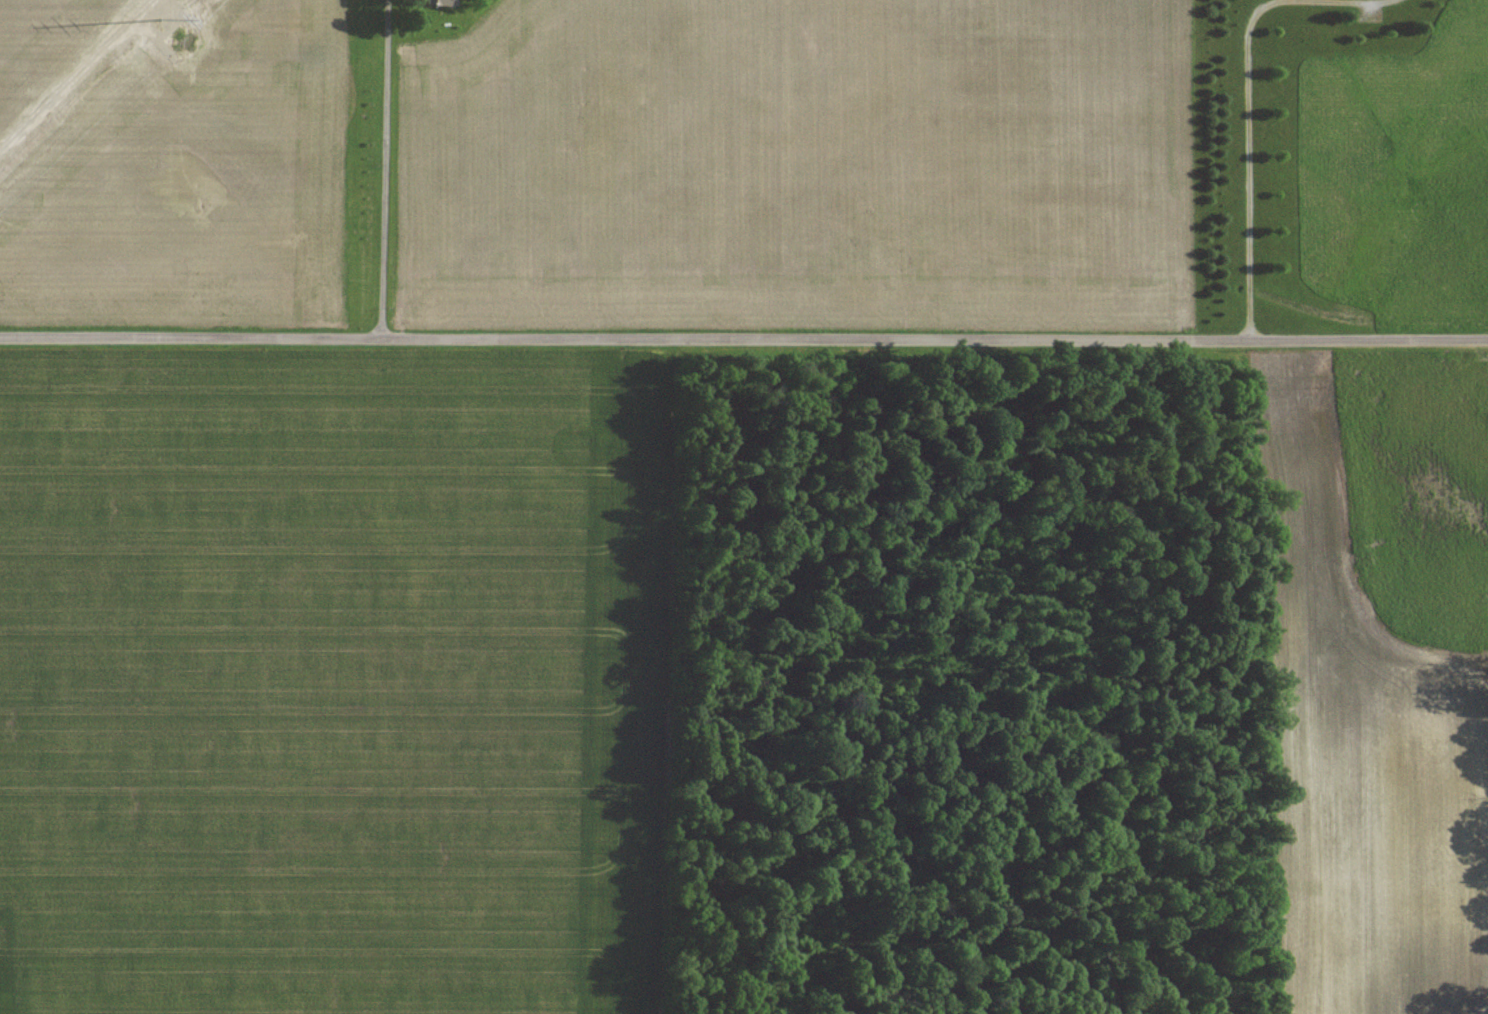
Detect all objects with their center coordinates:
road: (1350, 1)
building: (435, 2)
parking lot: (1368, 13)
power tower: (181, 37)
road: (1249, 161)
road: (384, 168)
road: (744, 338)

